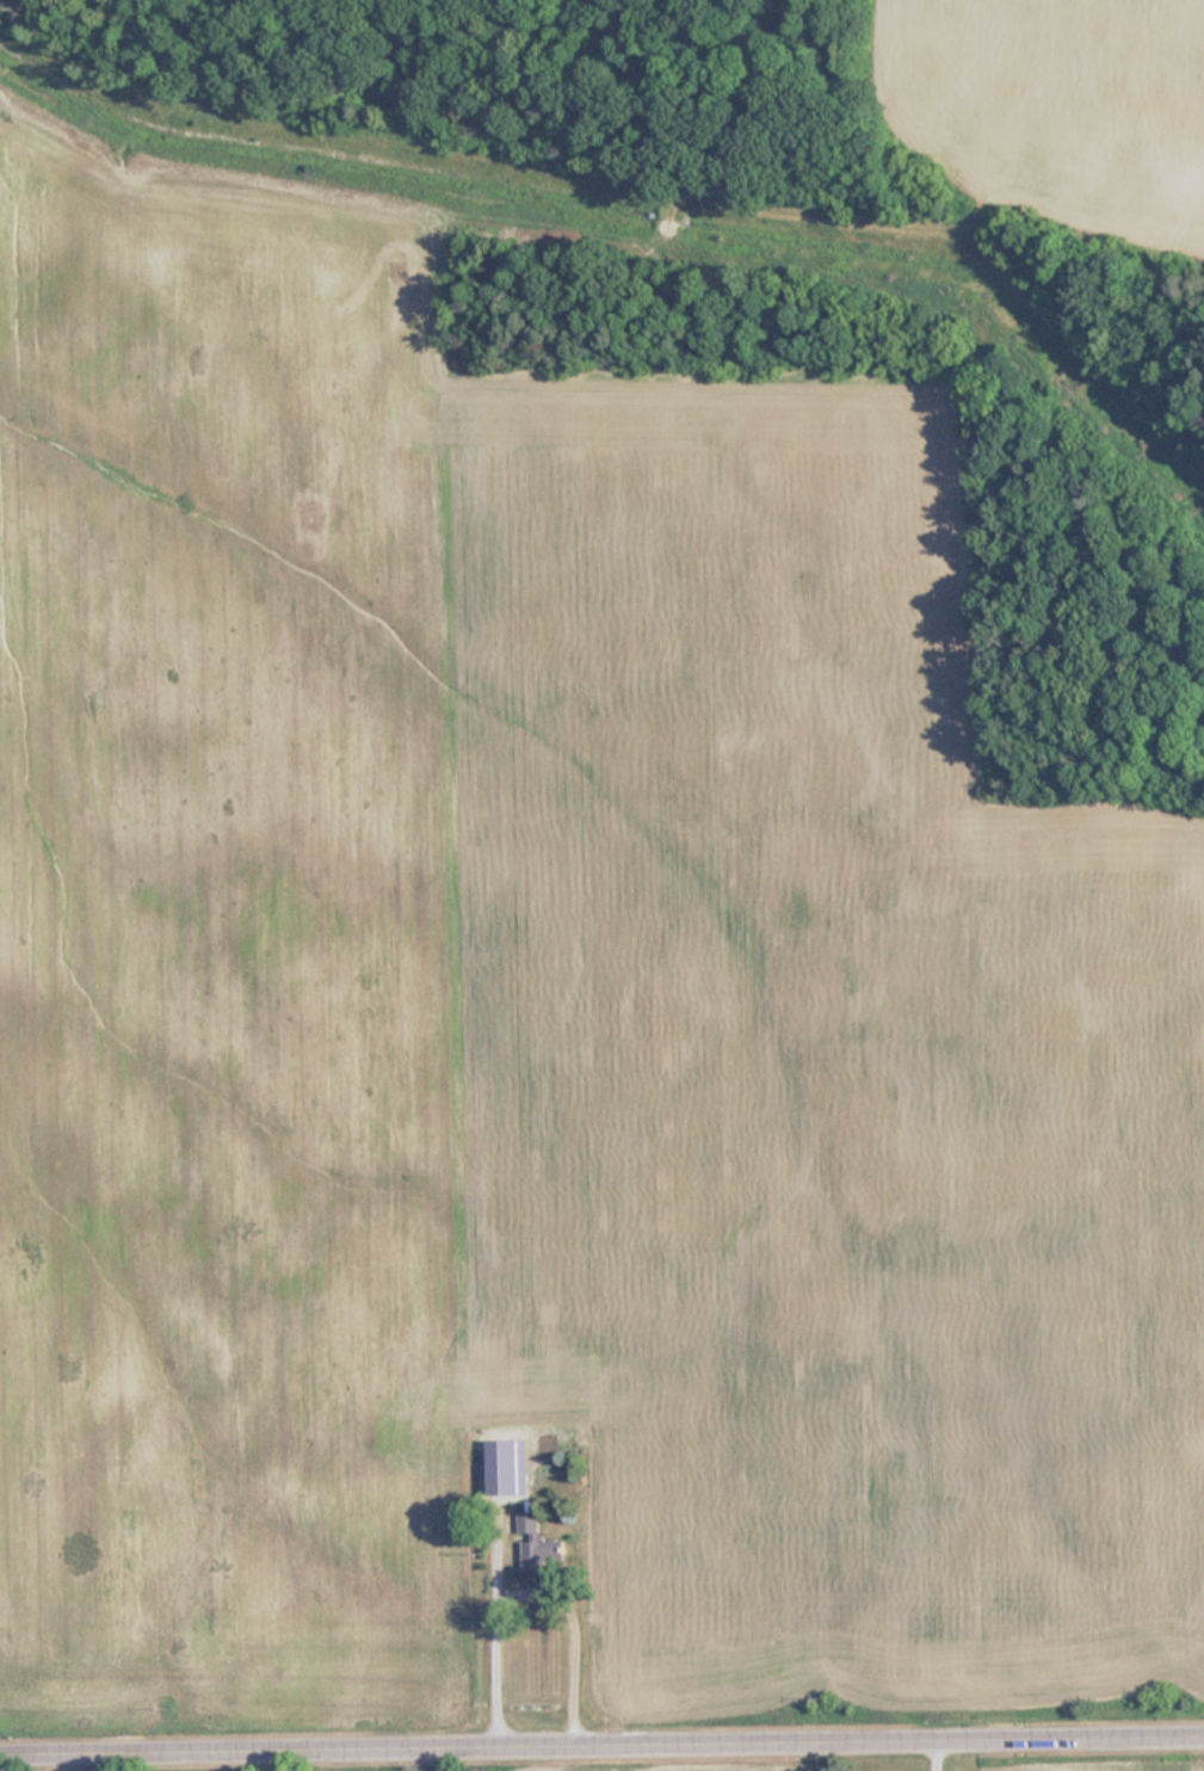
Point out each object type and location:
building: (536, 1544)
road: (531, 1579)
road: (601, 1747)
road: (928, 1757)

